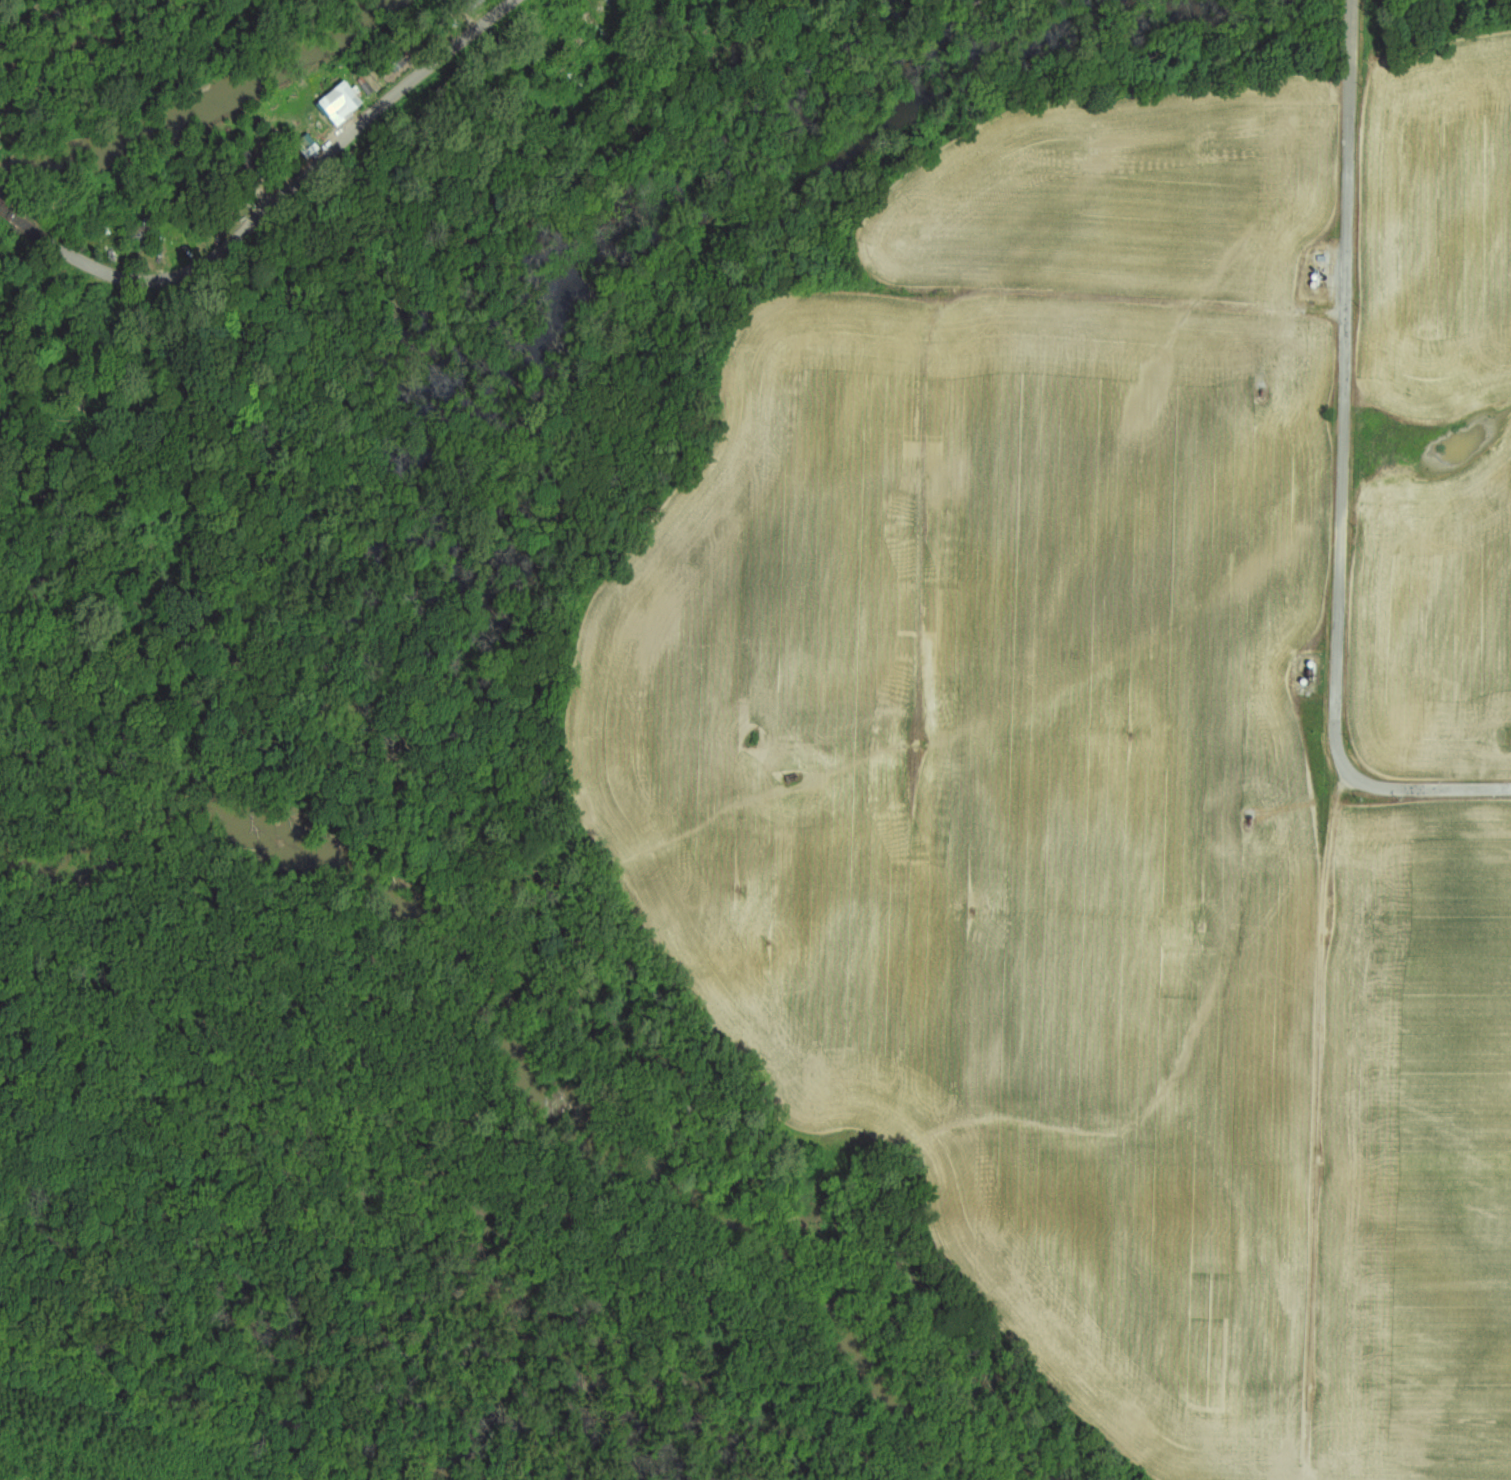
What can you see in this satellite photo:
building: (478, 2)
building: (602, 12)
building: (400, 58)
building: (346, 100)
river: (200, 109)
building: (252, 170)
road: (287, 192)
road: (14, 219)
building: (142, 235)
building: (1324, 259)
building: (1318, 276)
storage tank: (1318, 276)
building: (1317, 285)
storage tank: (1317, 285)
road: (1342, 468)
building: (1314, 665)
storage tank: (1314, 665)
building: (1306, 682)
storage tank: (1306, 682)
river: (512, 1052)

